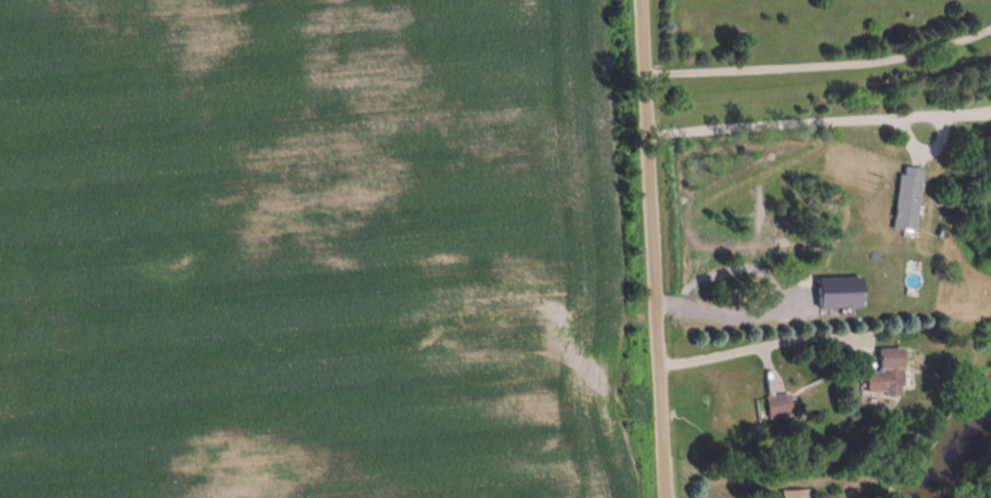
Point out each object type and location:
building: (912, 199)
road: (650, 249)
building: (892, 373)
building: (782, 405)
river: (957, 454)
building: (801, 493)

